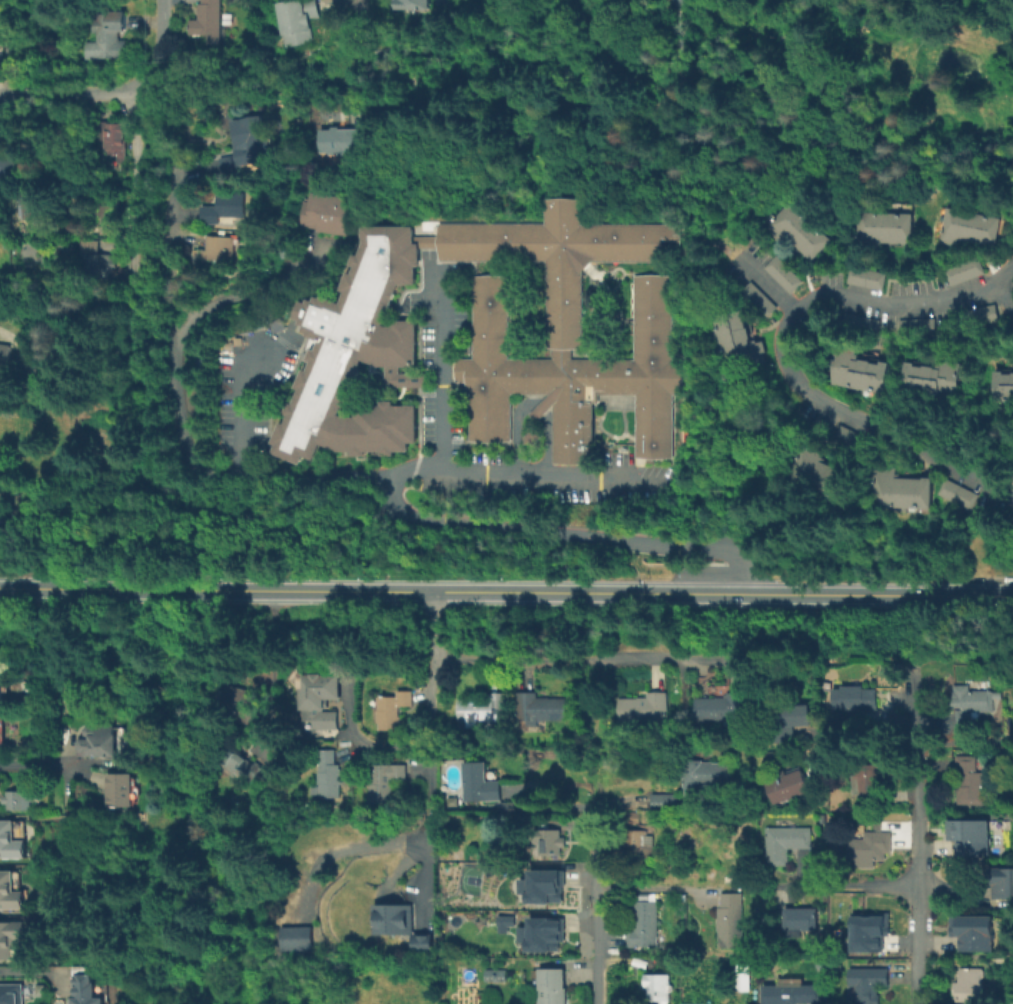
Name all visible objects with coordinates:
building: (412, 2)
building: (227, 18)
building: (297, 20)
building: (208, 21)
road: (660, 33)
road: (360, 34)
building: (106, 37)
road: (161, 39)
road: (384, 40)
road: (408, 44)
road: (537, 64)
road: (417, 66)
road: (658, 75)
park: (629, 77)
road: (78, 95)
building: (342, 138)
building: (111, 140)
building: (252, 141)
building: (7, 167)
road: (168, 204)
building: (228, 206)
building: (41, 209)
building: (326, 212)
building: (780, 218)
building: (793, 227)
building: (889, 227)
building: (903, 227)
building: (947, 227)
building: (961, 227)
building: (975, 227)
building: (874, 228)
building: (860, 230)
building: (988, 230)
road: (132, 234)
building: (805, 235)
building: (813, 244)
building: (220, 246)
building: (95, 259)
building: (962, 270)
building: (781, 273)
building: (865, 276)
road: (766, 285)
road: (1005, 288)
building: (755, 298)
building: (978, 314)
building: (732, 317)
building: (857, 322)
building: (914, 325)
building: (566, 328)
building: (734, 330)
building: (740, 344)
building: (357, 354)
building: (3, 355)
building: (746, 358)
road: (783, 362)
building: (841, 365)
building: (854, 370)
road: (436, 371)
building: (868, 375)
building: (880, 375)
building: (908, 376)
building: (936, 378)
building: (921, 379)
building: (950, 379)
building: (1000, 383)
building: (1009, 383)
road: (241, 399)
road: (538, 409)
road: (178, 416)
road: (515, 431)
building: (850, 440)
road: (546, 445)
building: (806, 464)
building: (820, 472)
building: (1012, 475)
building: (1012, 479)
building: (833, 480)
building: (843, 483)
building: (881, 485)
building: (897, 489)
building: (924, 491)
building: (912, 492)
building: (955, 493)
building: (3, 523)
road: (448, 523)
road: (506, 590)
road: (579, 660)
road: (265, 667)
building: (2, 687)
building: (859, 697)
building: (319, 700)
building: (234, 703)
building: (975, 704)
building: (392, 707)
building: (538, 707)
building: (723, 707)
building: (644, 708)
building: (482, 710)
building: (899, 719)
building: (790, 724)
road: (429, 728)
building: (1, 733)
road: (595, 738)
building: (94, 740)
road: (30, 762)
building: (235, 764)
building: (327, 772)
building: (706, 774)
building: (970, 780)
building: (385, 782)
building: (480, 782)
building: (867, 782)
building: (789, 785)
building: (117, 789)
building: (18, 799)
building: (665, 800)
building: (509, 807)
building: (632, 816)
road: (919, 836)
building: (972, 837)
building: (551, 840)
building: (785, 841)
building: (11, 842)
building: (639, 842)
building: (869, 846)
road: (853, 883)
building: (542, 884)
building: (1004, 885)
road: (652, 886)
building: (10, 892)
road: (595, 910)
building: (392, 912)
building: (800, 918)
building: (730, 919)
building: (503, 922)
building: (643, 923)
building: (540, 933)
building: (976, 934)
building: (295, 937)
building: (864, 937)
building: (422, 938)
building: (11, 940)
road: (32, 972)
building: (495, 974)
building: (744, 976)
building: (869, 982)
building: (969, 983)
building: (551, 985)
building: (658, 986)
building: (84, 988)
building: (16, 990)
building: (793, 992)
building: (708, 1003)

